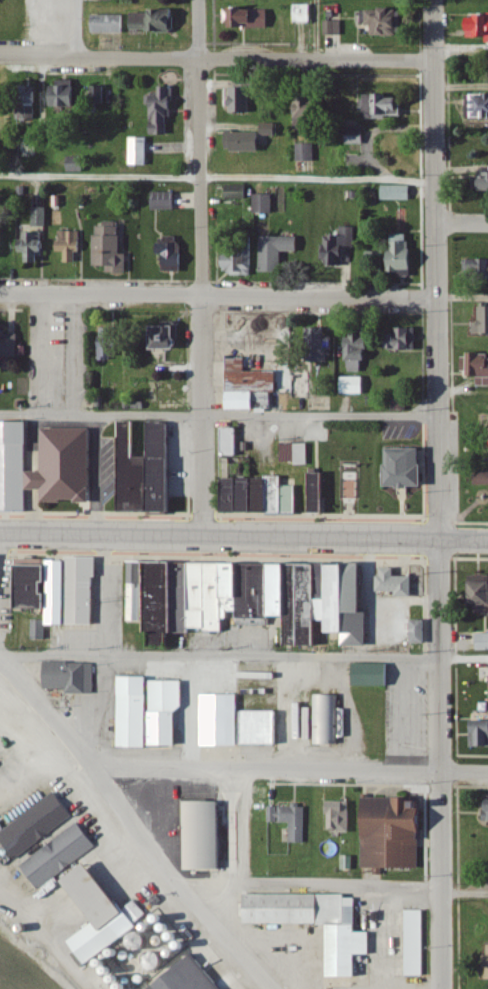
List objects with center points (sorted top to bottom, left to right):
building: (303, 14)
building: (248, 19)
building: (154, 22)
building: (388, 23)
building: (109, 25)
building: (478, 27)
road: (75, 28)
building: (334, 28)
road: (315, 30)
road: (215, 61)
building: (244, 84)
building: (66, 95)
building: (241, 101)
building: (32, 106)
building: (384, 107)
building: (479, 107)
building: (163, 110)
building: (309, 115)
building: (251, 139)
building: (141, 152)
building: (307, 153)
building: (78, 165)
road: (216, 177)
building: (486, 183)
building: (238, 192)
building: (402, 194)
building: (165, 202)
building: (265, 205)
building: (41, 218)
road: (461, 223)
building: (1, 242)
building: (71, 246)
building: (111, 247)
building: (339, 247)
building: (34, 248)
building: (277, 253)
building: (173, 255)
building: (405, 256)
building: (239, 262)
road: (200, 269)
road: (435, 270)
building: (477, 270)
road: (218, 296)
building: (483, 323)
building: (169, 337)
building: (405, 338)
building: (112, 342)
building: (9, 344)
building: (322, 345)
building: (358, 351)
building: (477, 367)
building: (250, 385)
building: (304, 385)
building: (355, 385)
road: (218, 417)
building: (231, 442)
building: (296, 453)
park: (472, 460)
building: (14, 464)
building: (67, 466)
building: (404, 468)
building: (147, 470)
building: (317, 493)
building: (233, 494)
building: (269, 495)
road: (243, 539)
building: (397, 583)
building: (60, 589)
building: (480, 594)
building: (250, 598)
building: (39, 630)
building: (420, 632)
building: (483, 642)
road: (243, 657)
road: (0, 665)
building: (372, 675)
building: (72, 677)
building: (168, 711)
building: (136, 712)
building: (326, 719)
building: (222, 720)
building: (298, 720)
building: (263, 728)
building: (480, 734)
road: (437, 765)
road: (260, 770)
road: (40, 772)
road: (462, 774)
building: (340, 817)
building: (291, 821)
building: (36, 826)
building: (1, 827)
road: (246, 828)
road: (131, 829)
building: (393, 834)
building: (60, 856)
road: (308, 885)
road: (464, 894)
building: (102, 914)
building: (318, 923)
road: (47, 938)
building: (416, 943)

